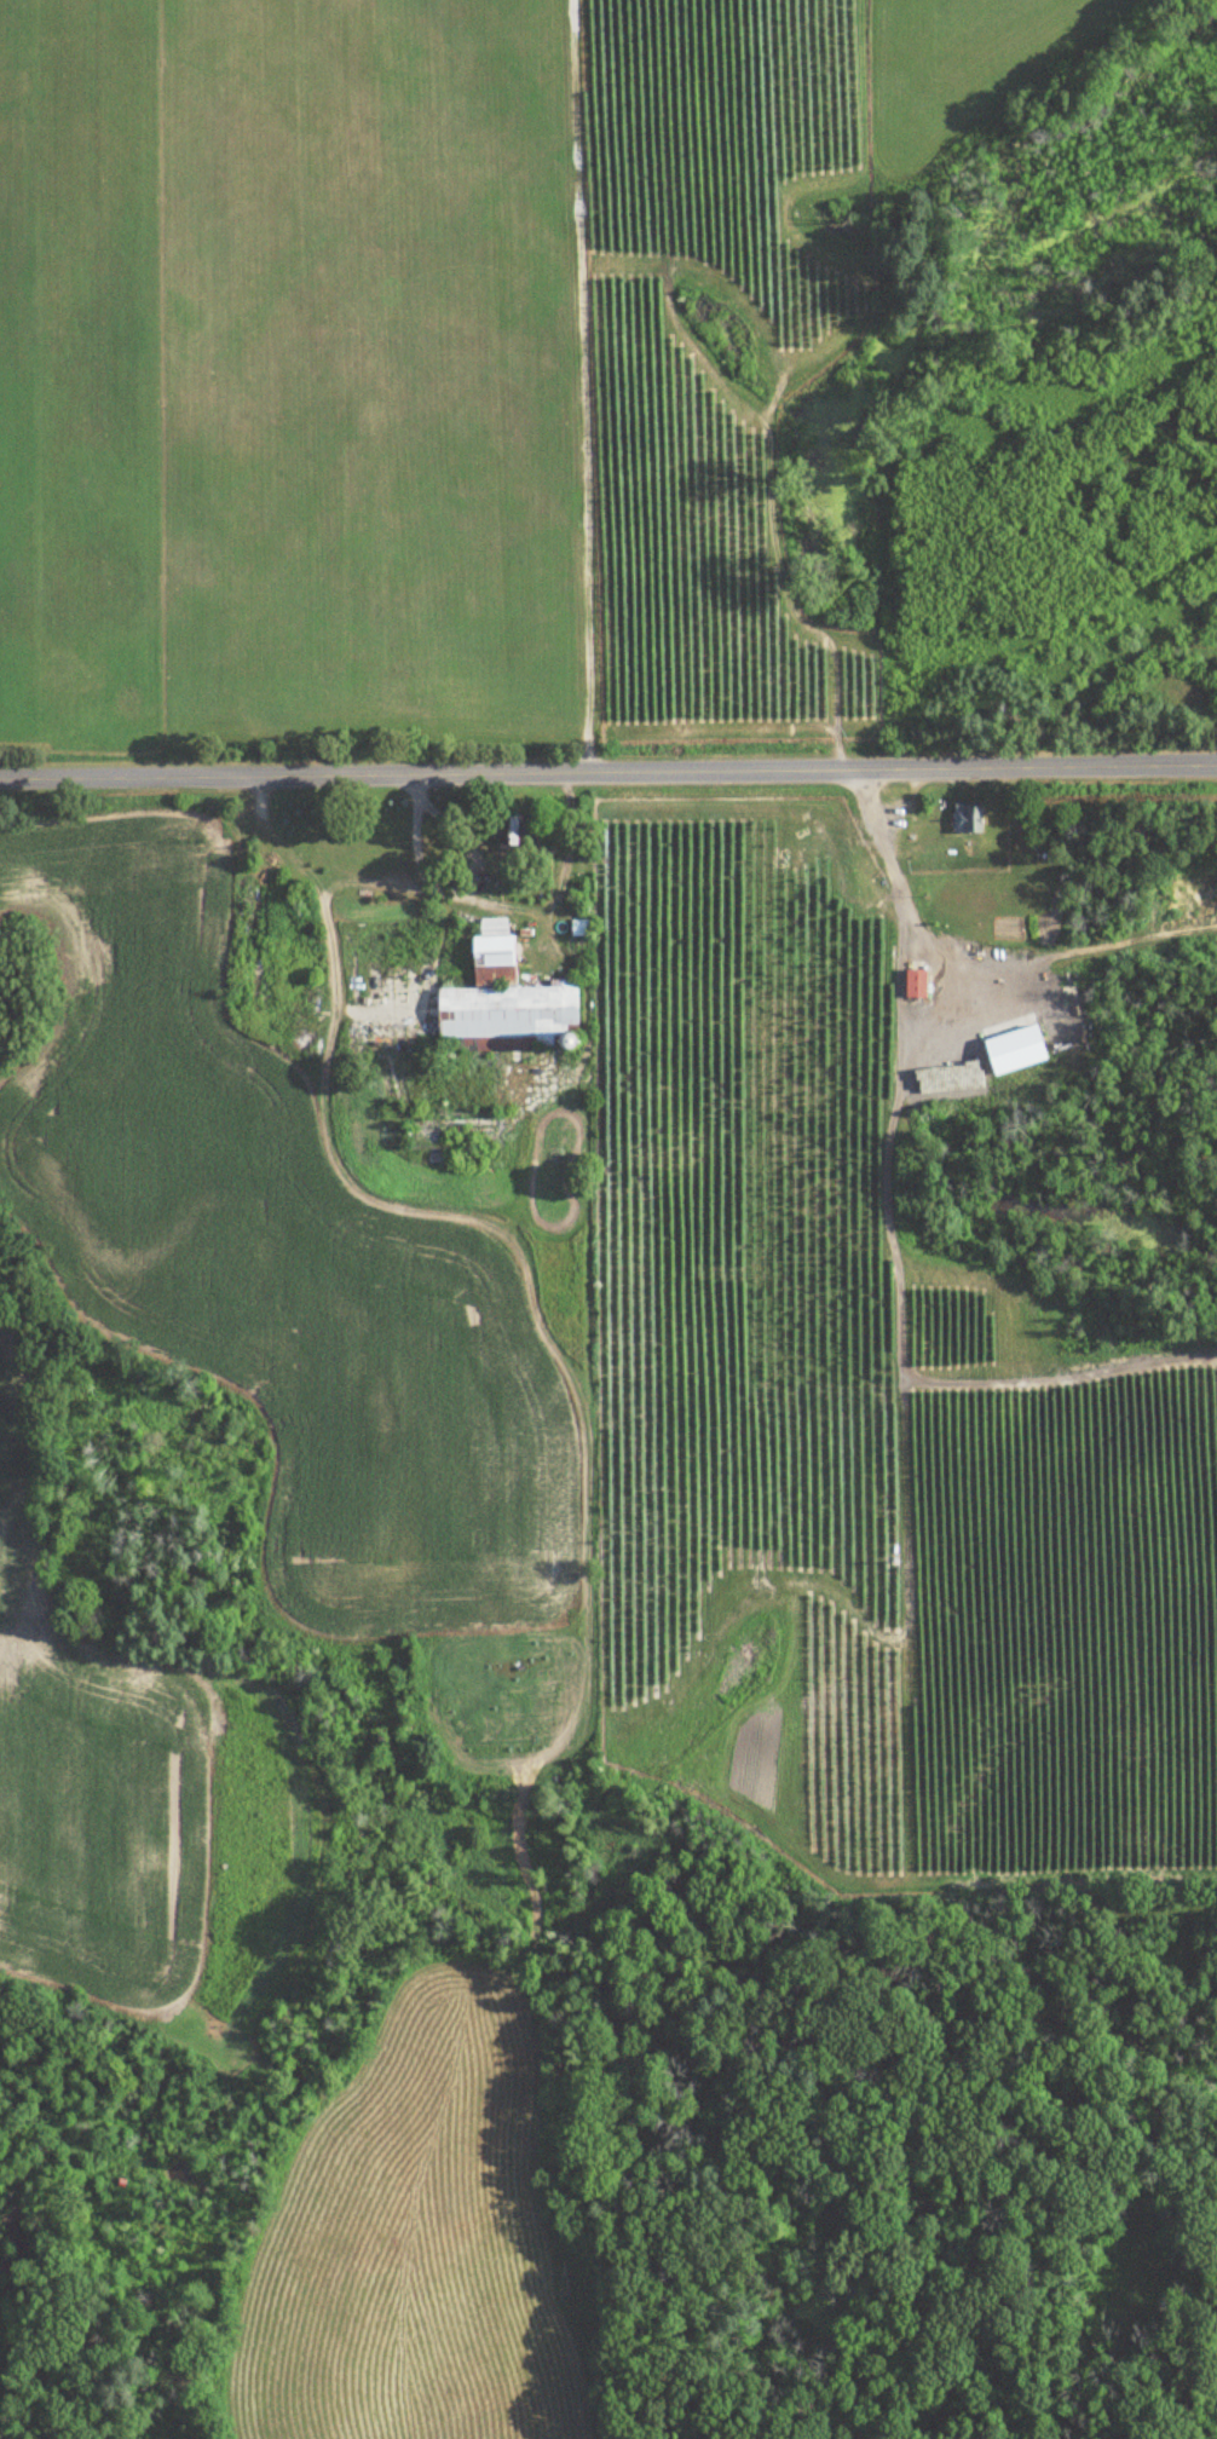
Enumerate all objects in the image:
road: (583, 385)
quarry: (1176, 677)
road: (607, 769)
building: (965, 817)
building: (519, 832)
road: (448, 890)
road: (898, 899)
building: (578, 927)
building: (915, 982)
building: (504, 1002)
building: (452, 1132)

